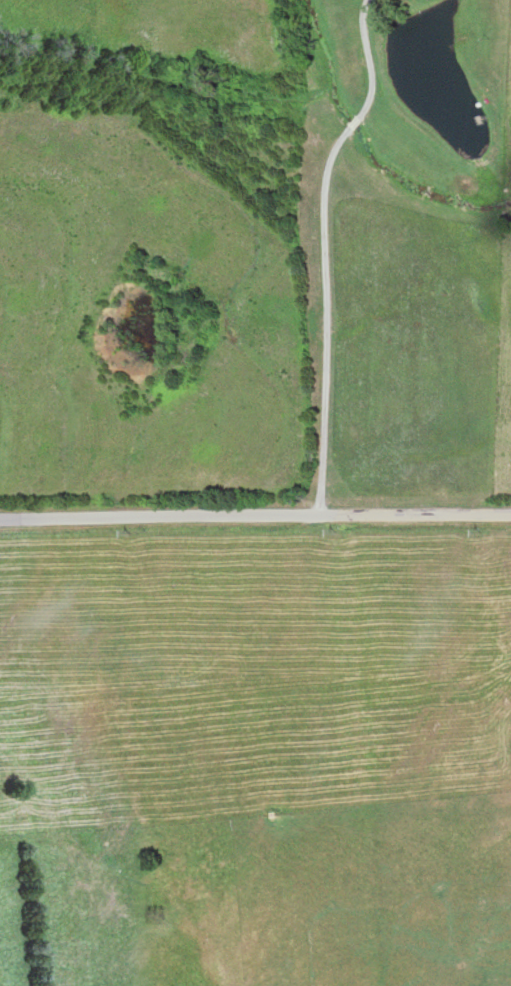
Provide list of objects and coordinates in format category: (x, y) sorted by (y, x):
road: (343, 252)
road: (255, 515)

